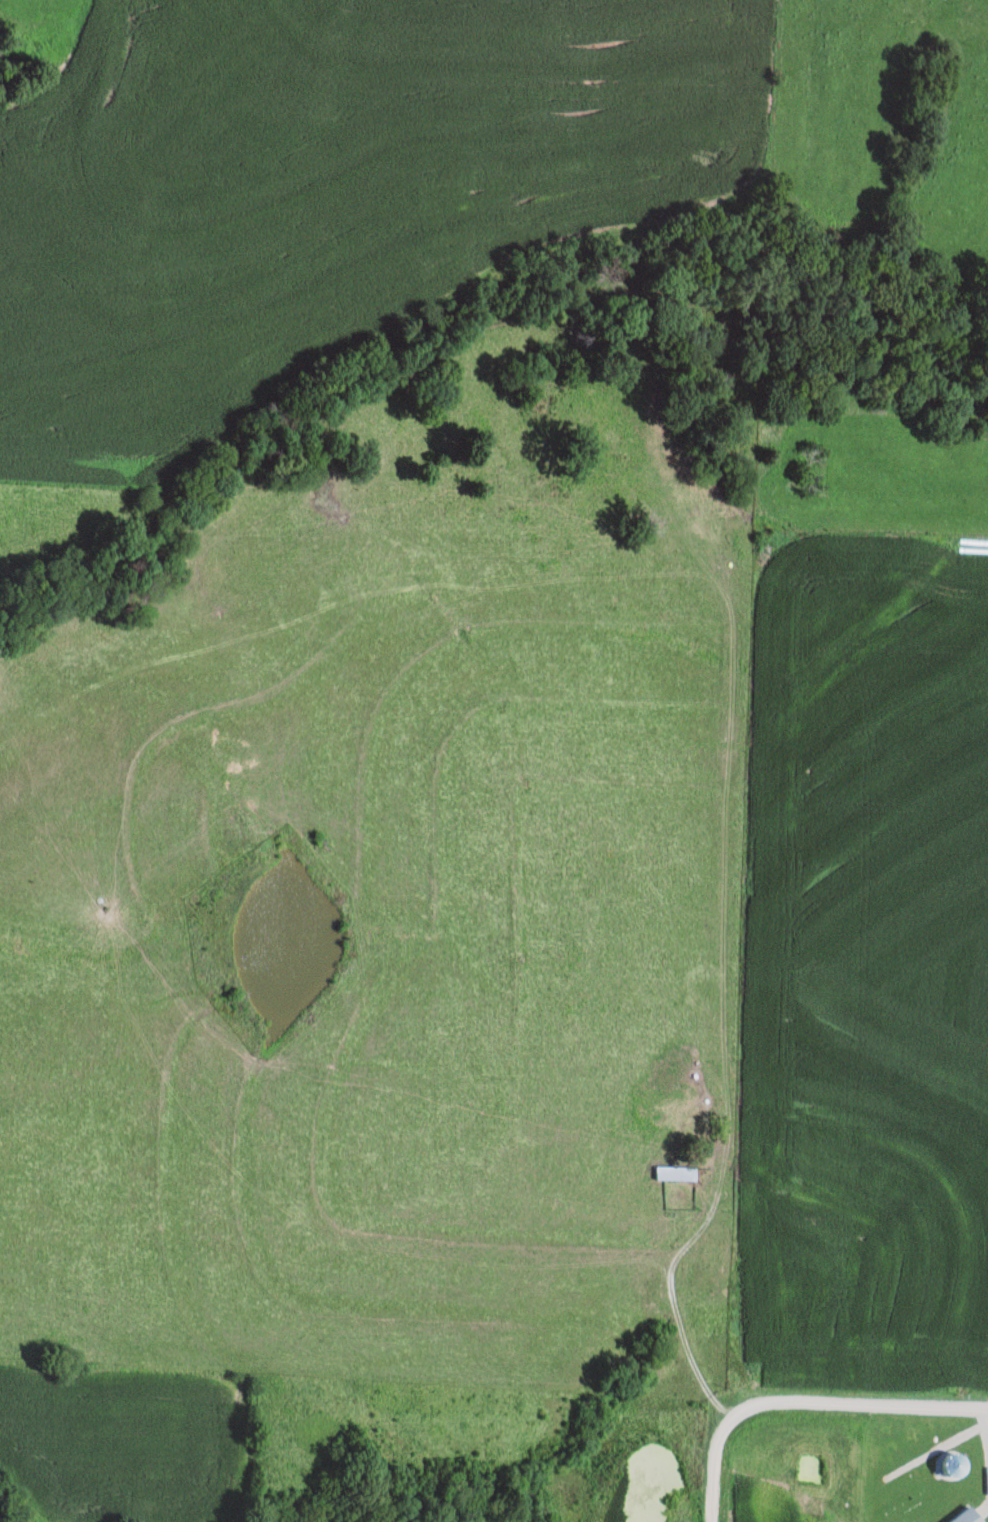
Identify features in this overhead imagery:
crop: (862, 968)
road: (803, 1402)
road: (866, 1411)

